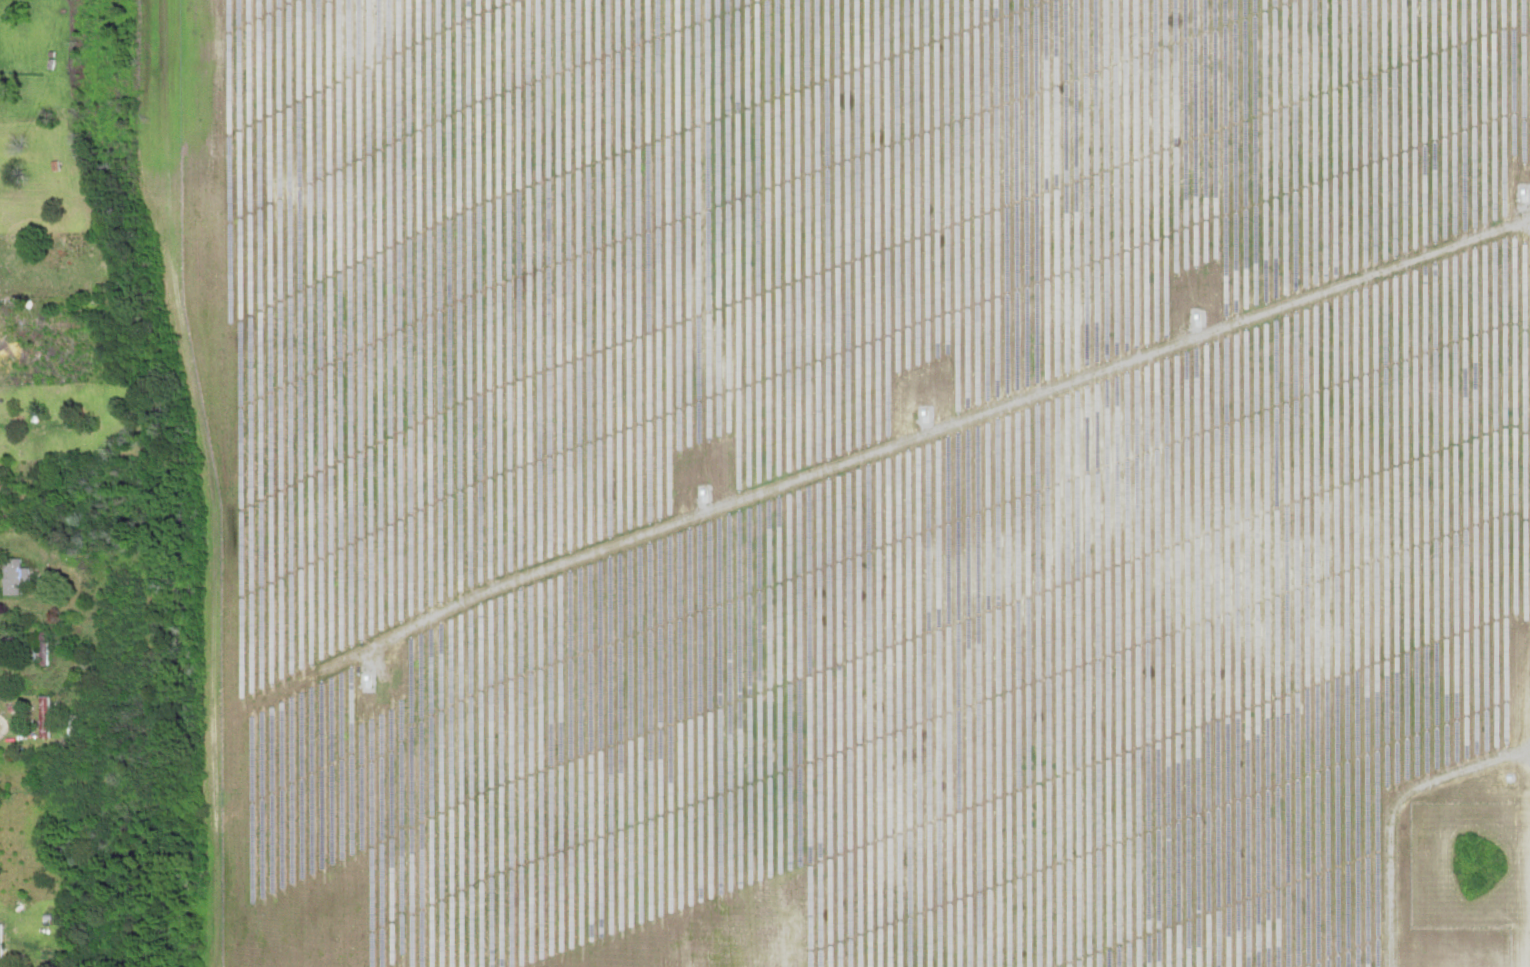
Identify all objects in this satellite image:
building: (53, 261)
building: (3, 498)
building: (11, 577)
building: (41, 649)
building: (42, 718)

